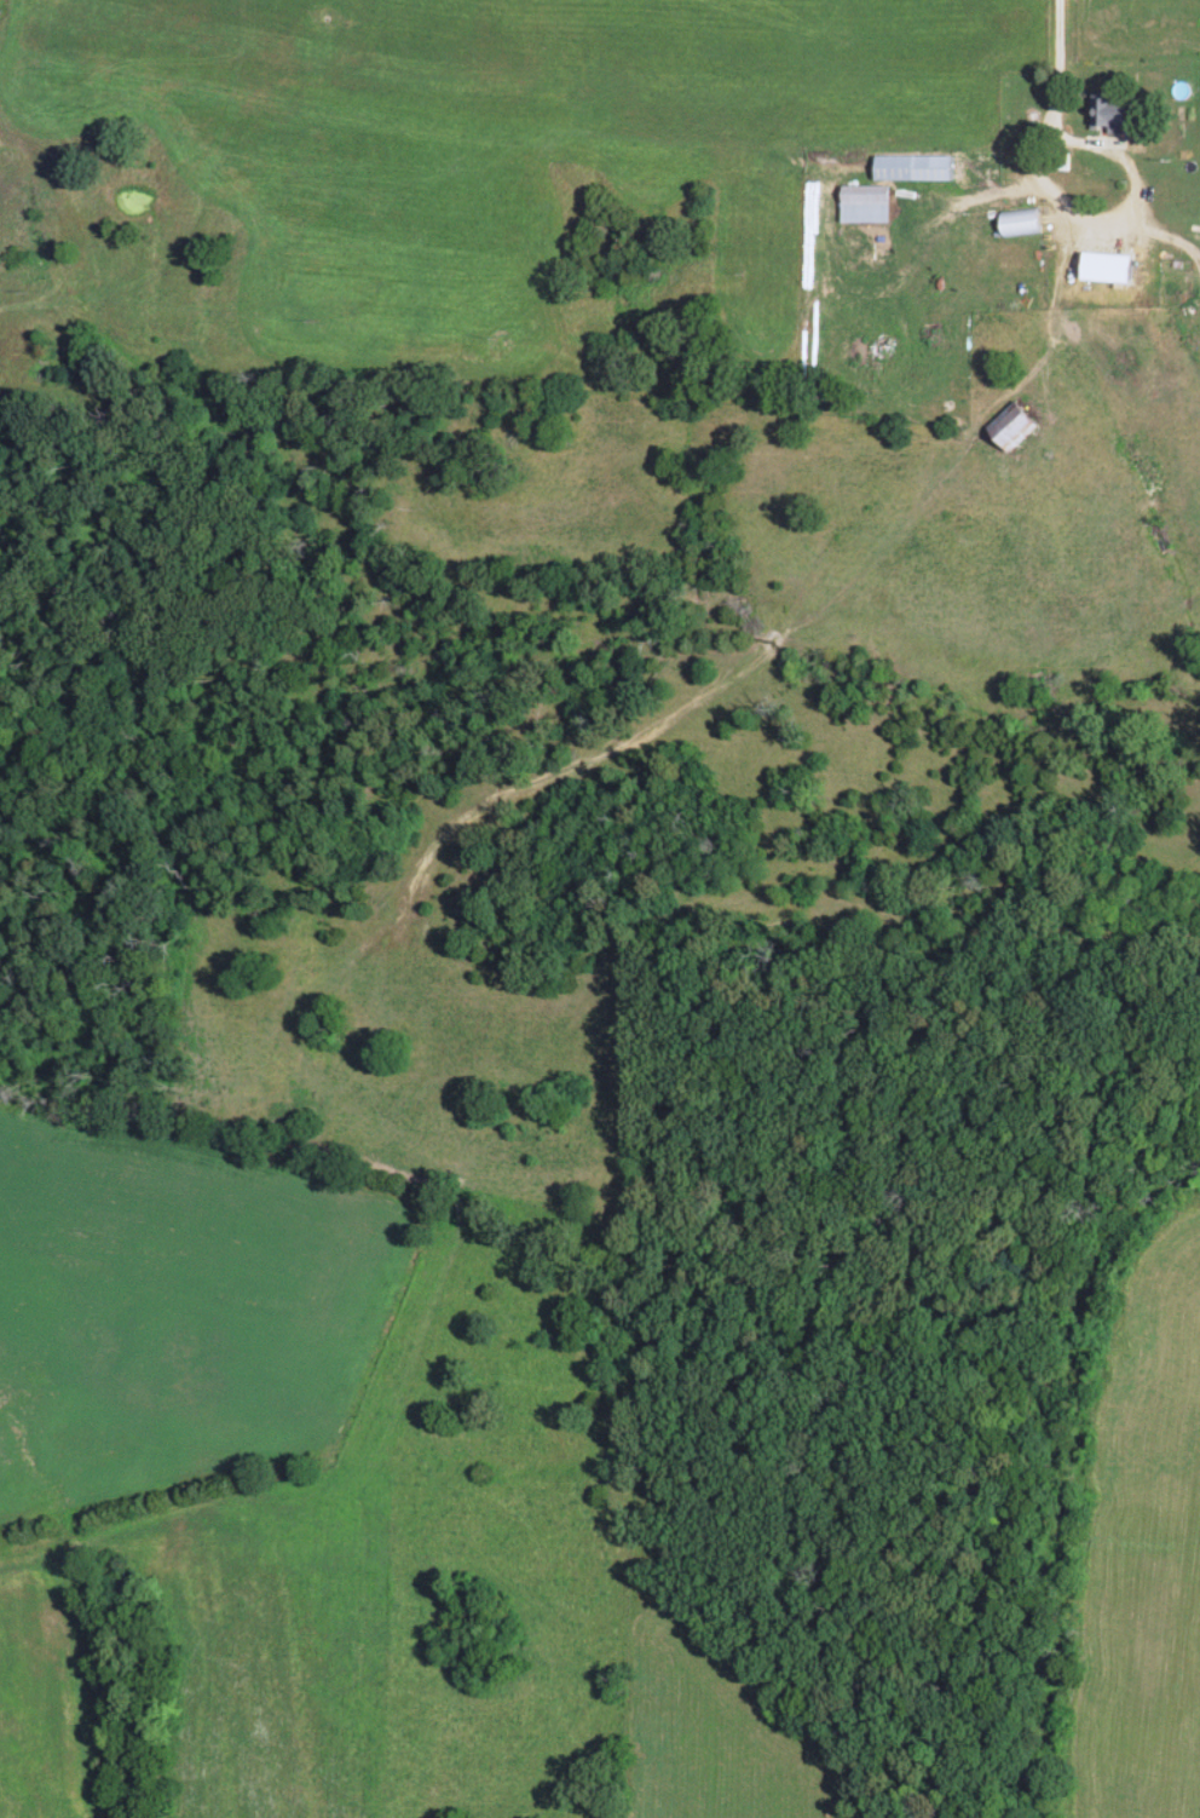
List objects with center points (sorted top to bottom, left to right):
road: (1058, 100)
building: (1113, 113)
building: (934, 169)
building: (867, 206)
building: (1022, 224)
building: (1123, 278)
building: (1014, 426)

